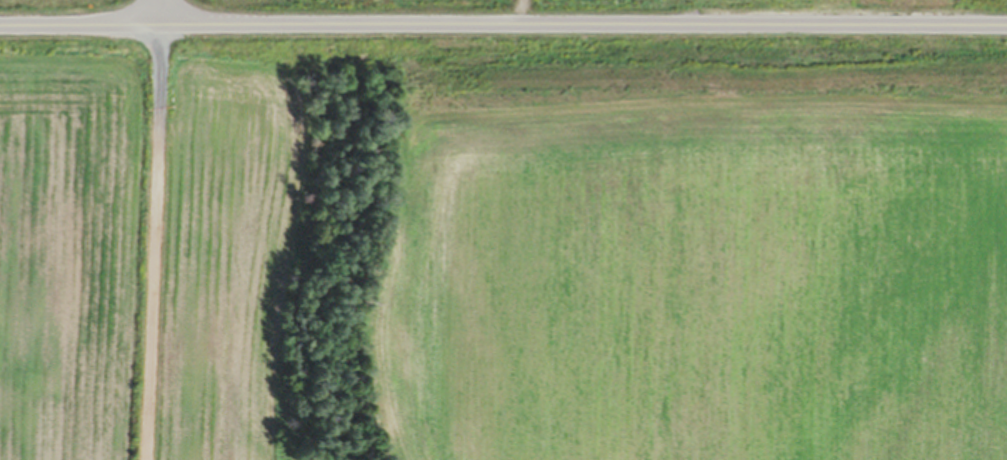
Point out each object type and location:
quarry: (172, 5)
crop: (60, 6)
road: (153, 12)
quarry: (155, 24)
road: (503, 24)
quarry: (570, 231)
crop: (65, 240)

